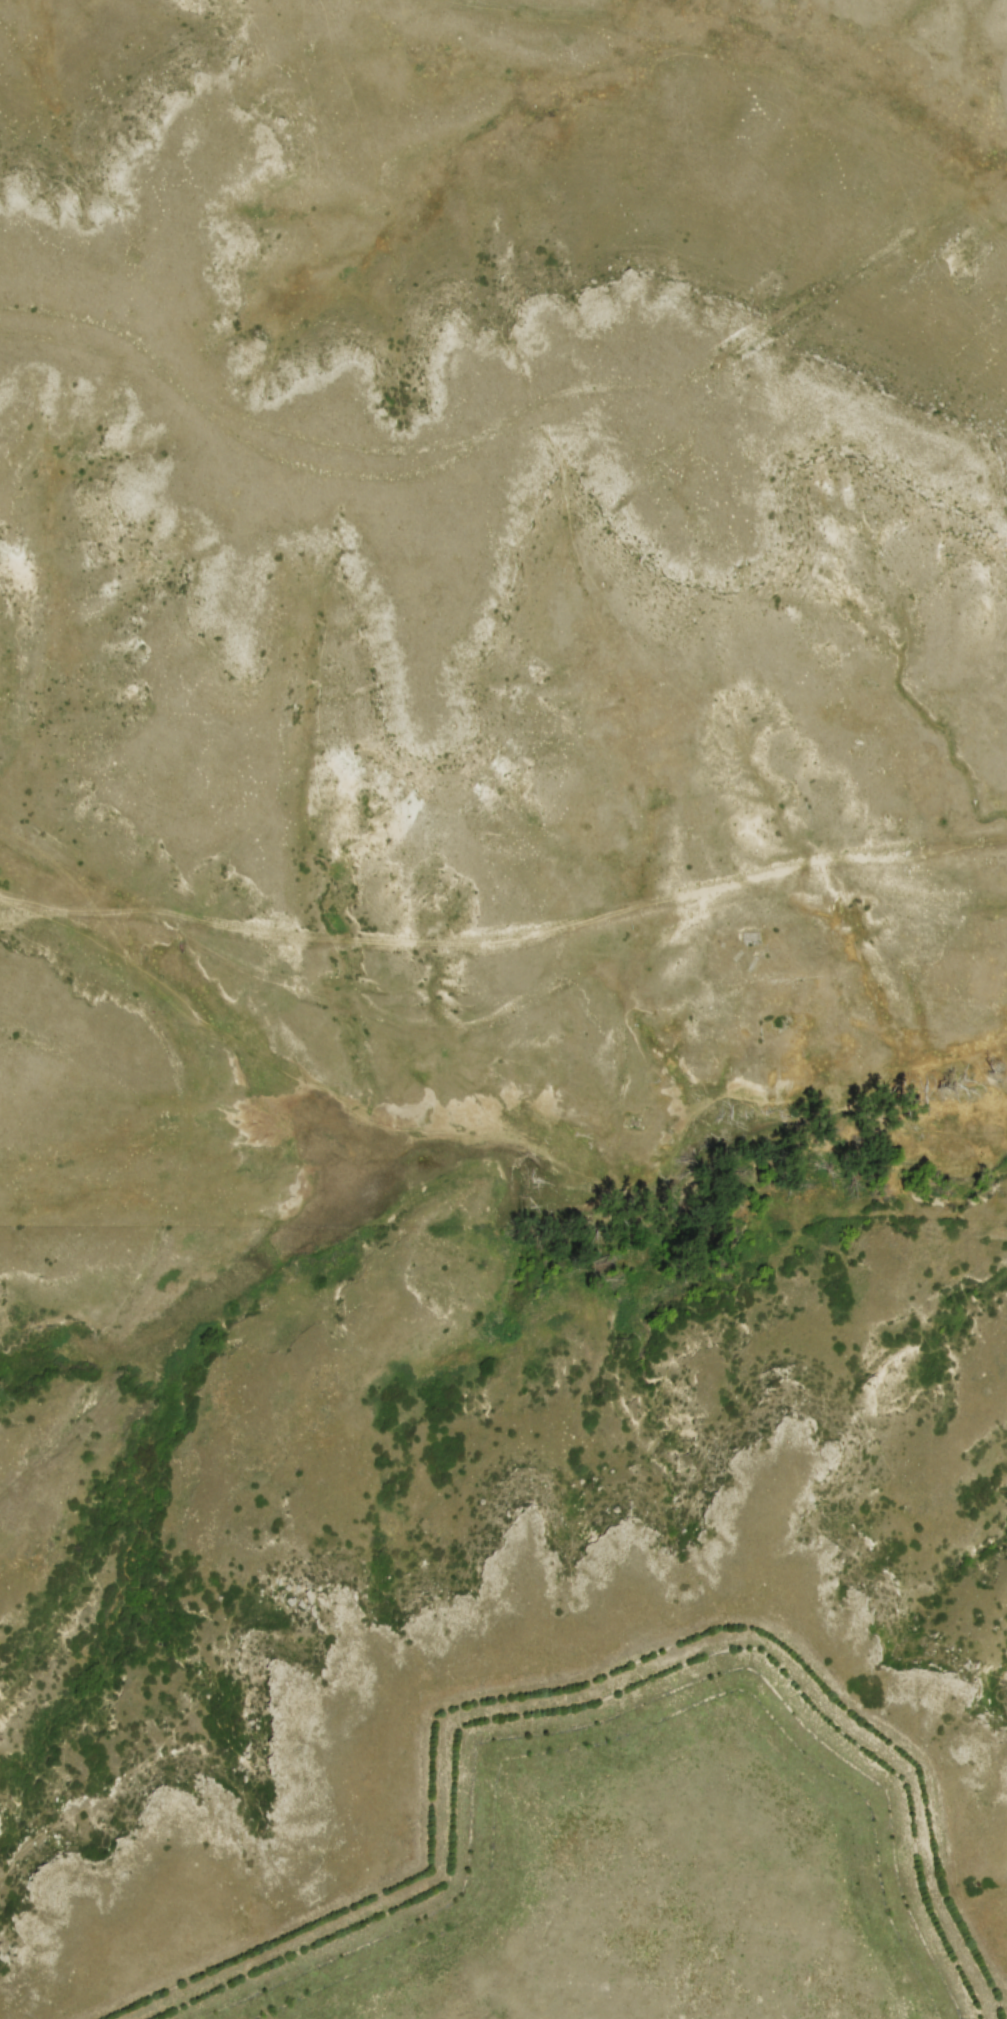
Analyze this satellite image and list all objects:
road: (507, 944)

